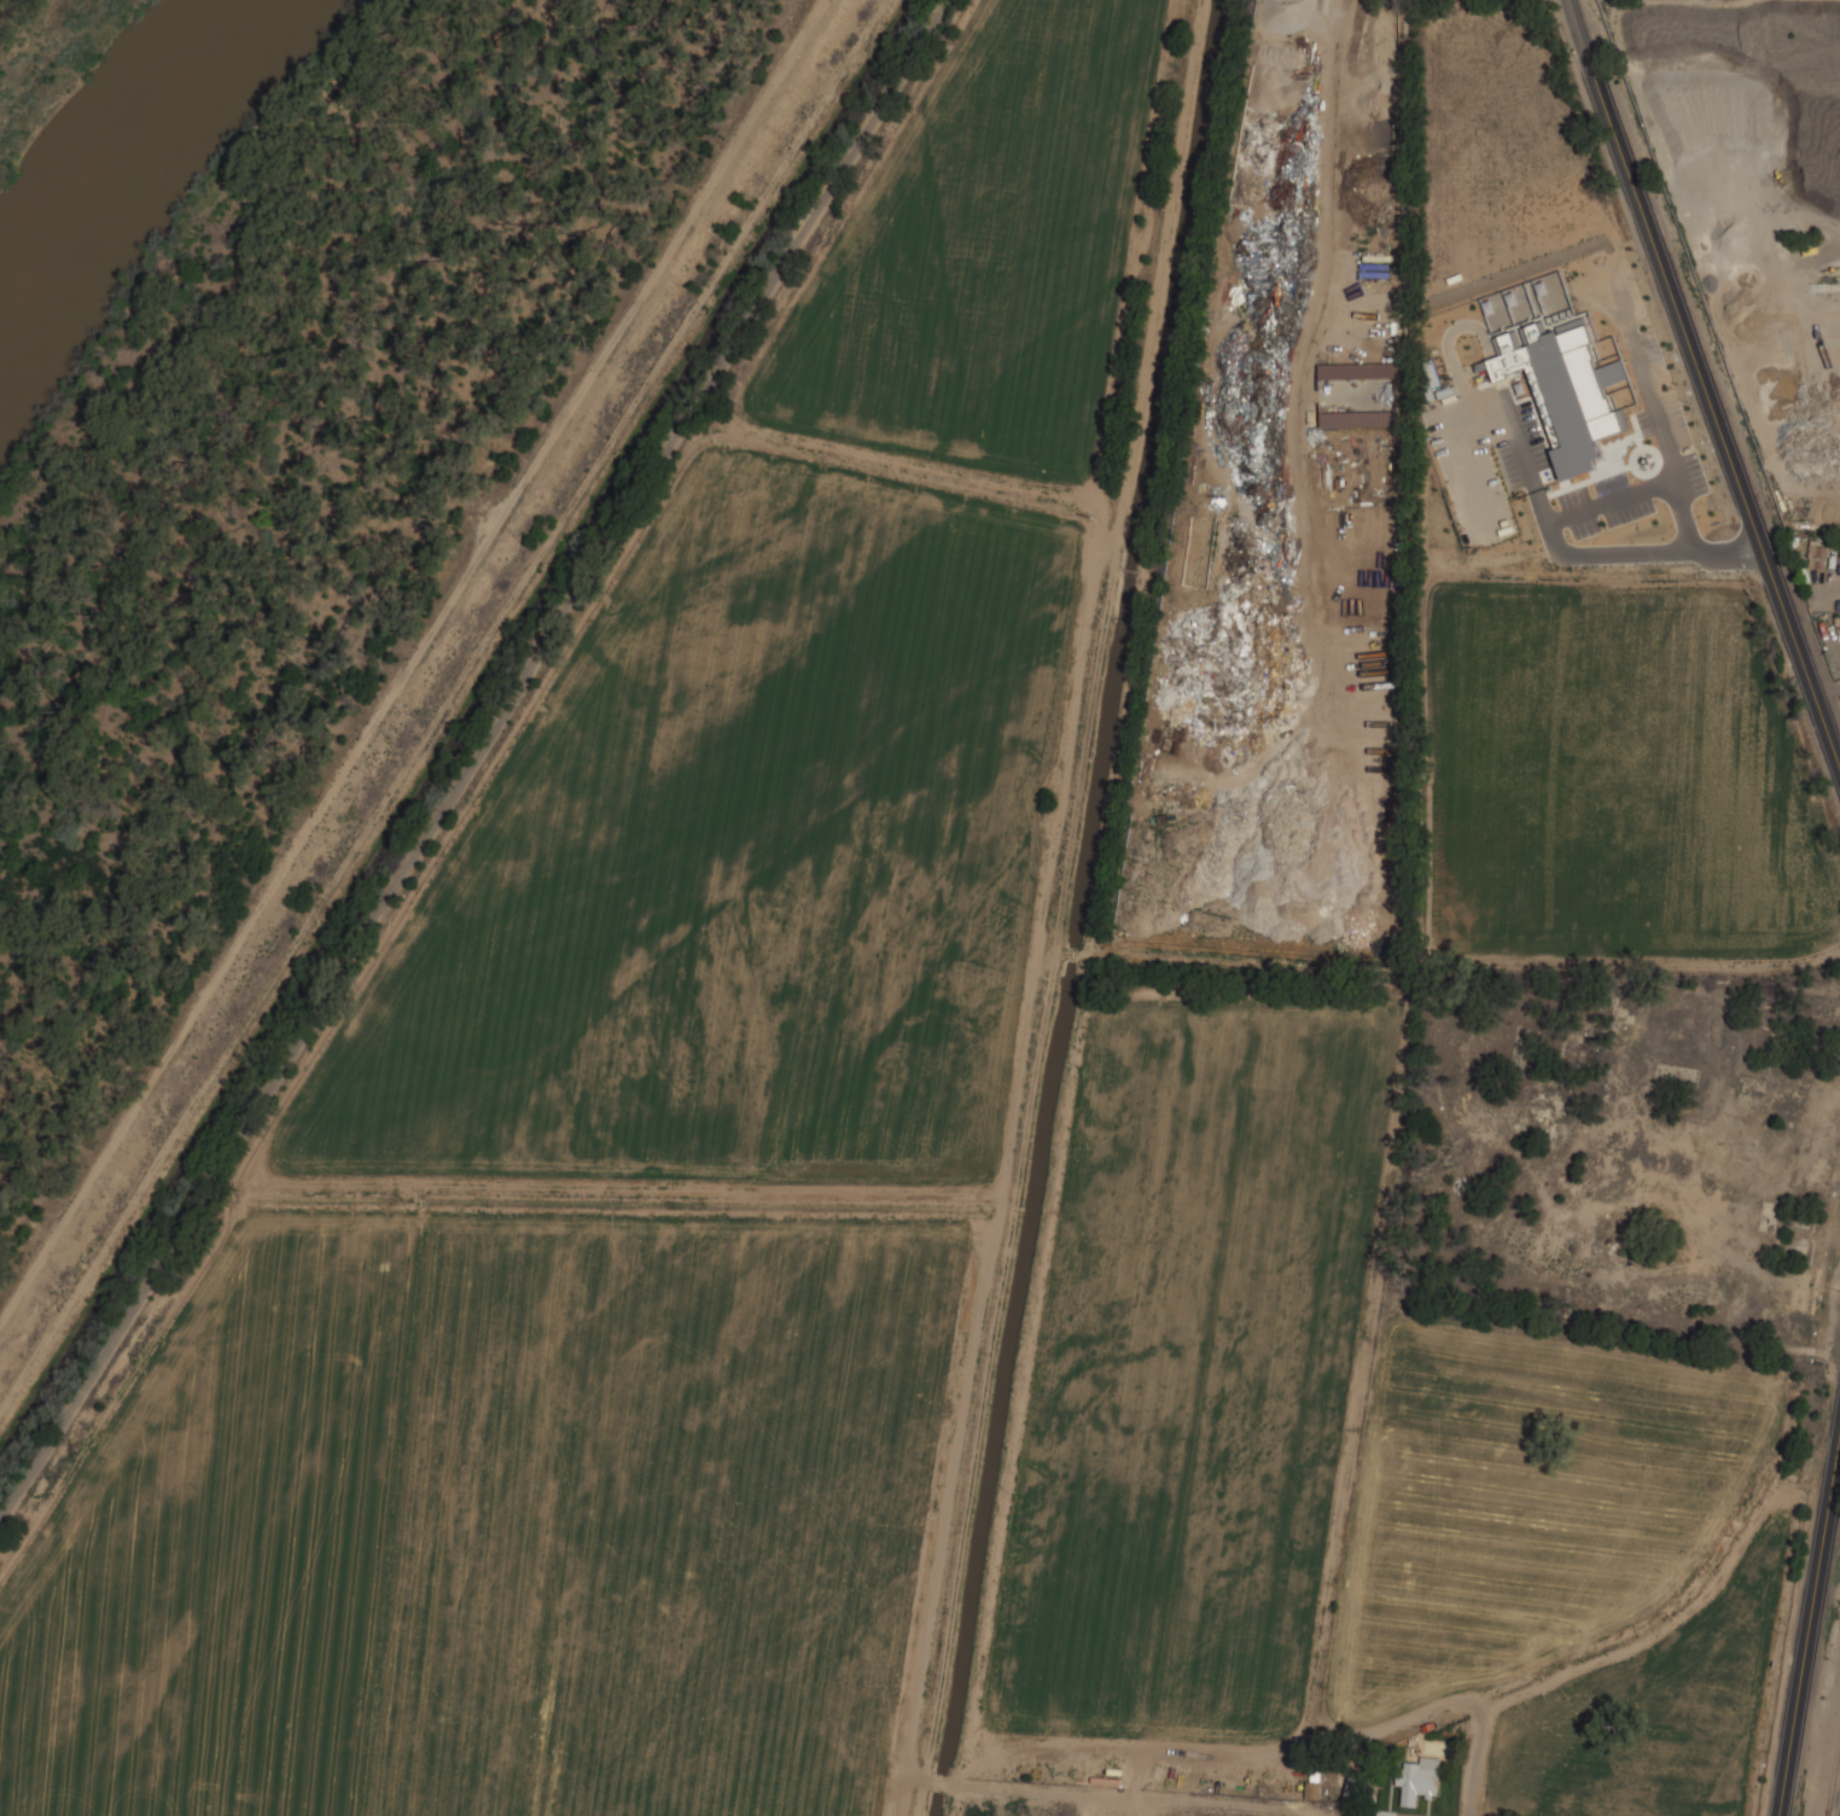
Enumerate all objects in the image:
river: (111, 161)
road: (243, 325)
road: (1699, 382)
building: (1564, 389)
road: (268, 468)
road: (1597, 505)
building: (1819, 554)
road: (408, 662)
road: (476, 758)
crop: (995, 1041)
road: (1811, 1635)
road: (1478, 1776)
building: (1420, 1779)
railway: (1835, 1781)
building: (1314, 1788)
building: (1387, 1814)
railway: (1829, 1815)

